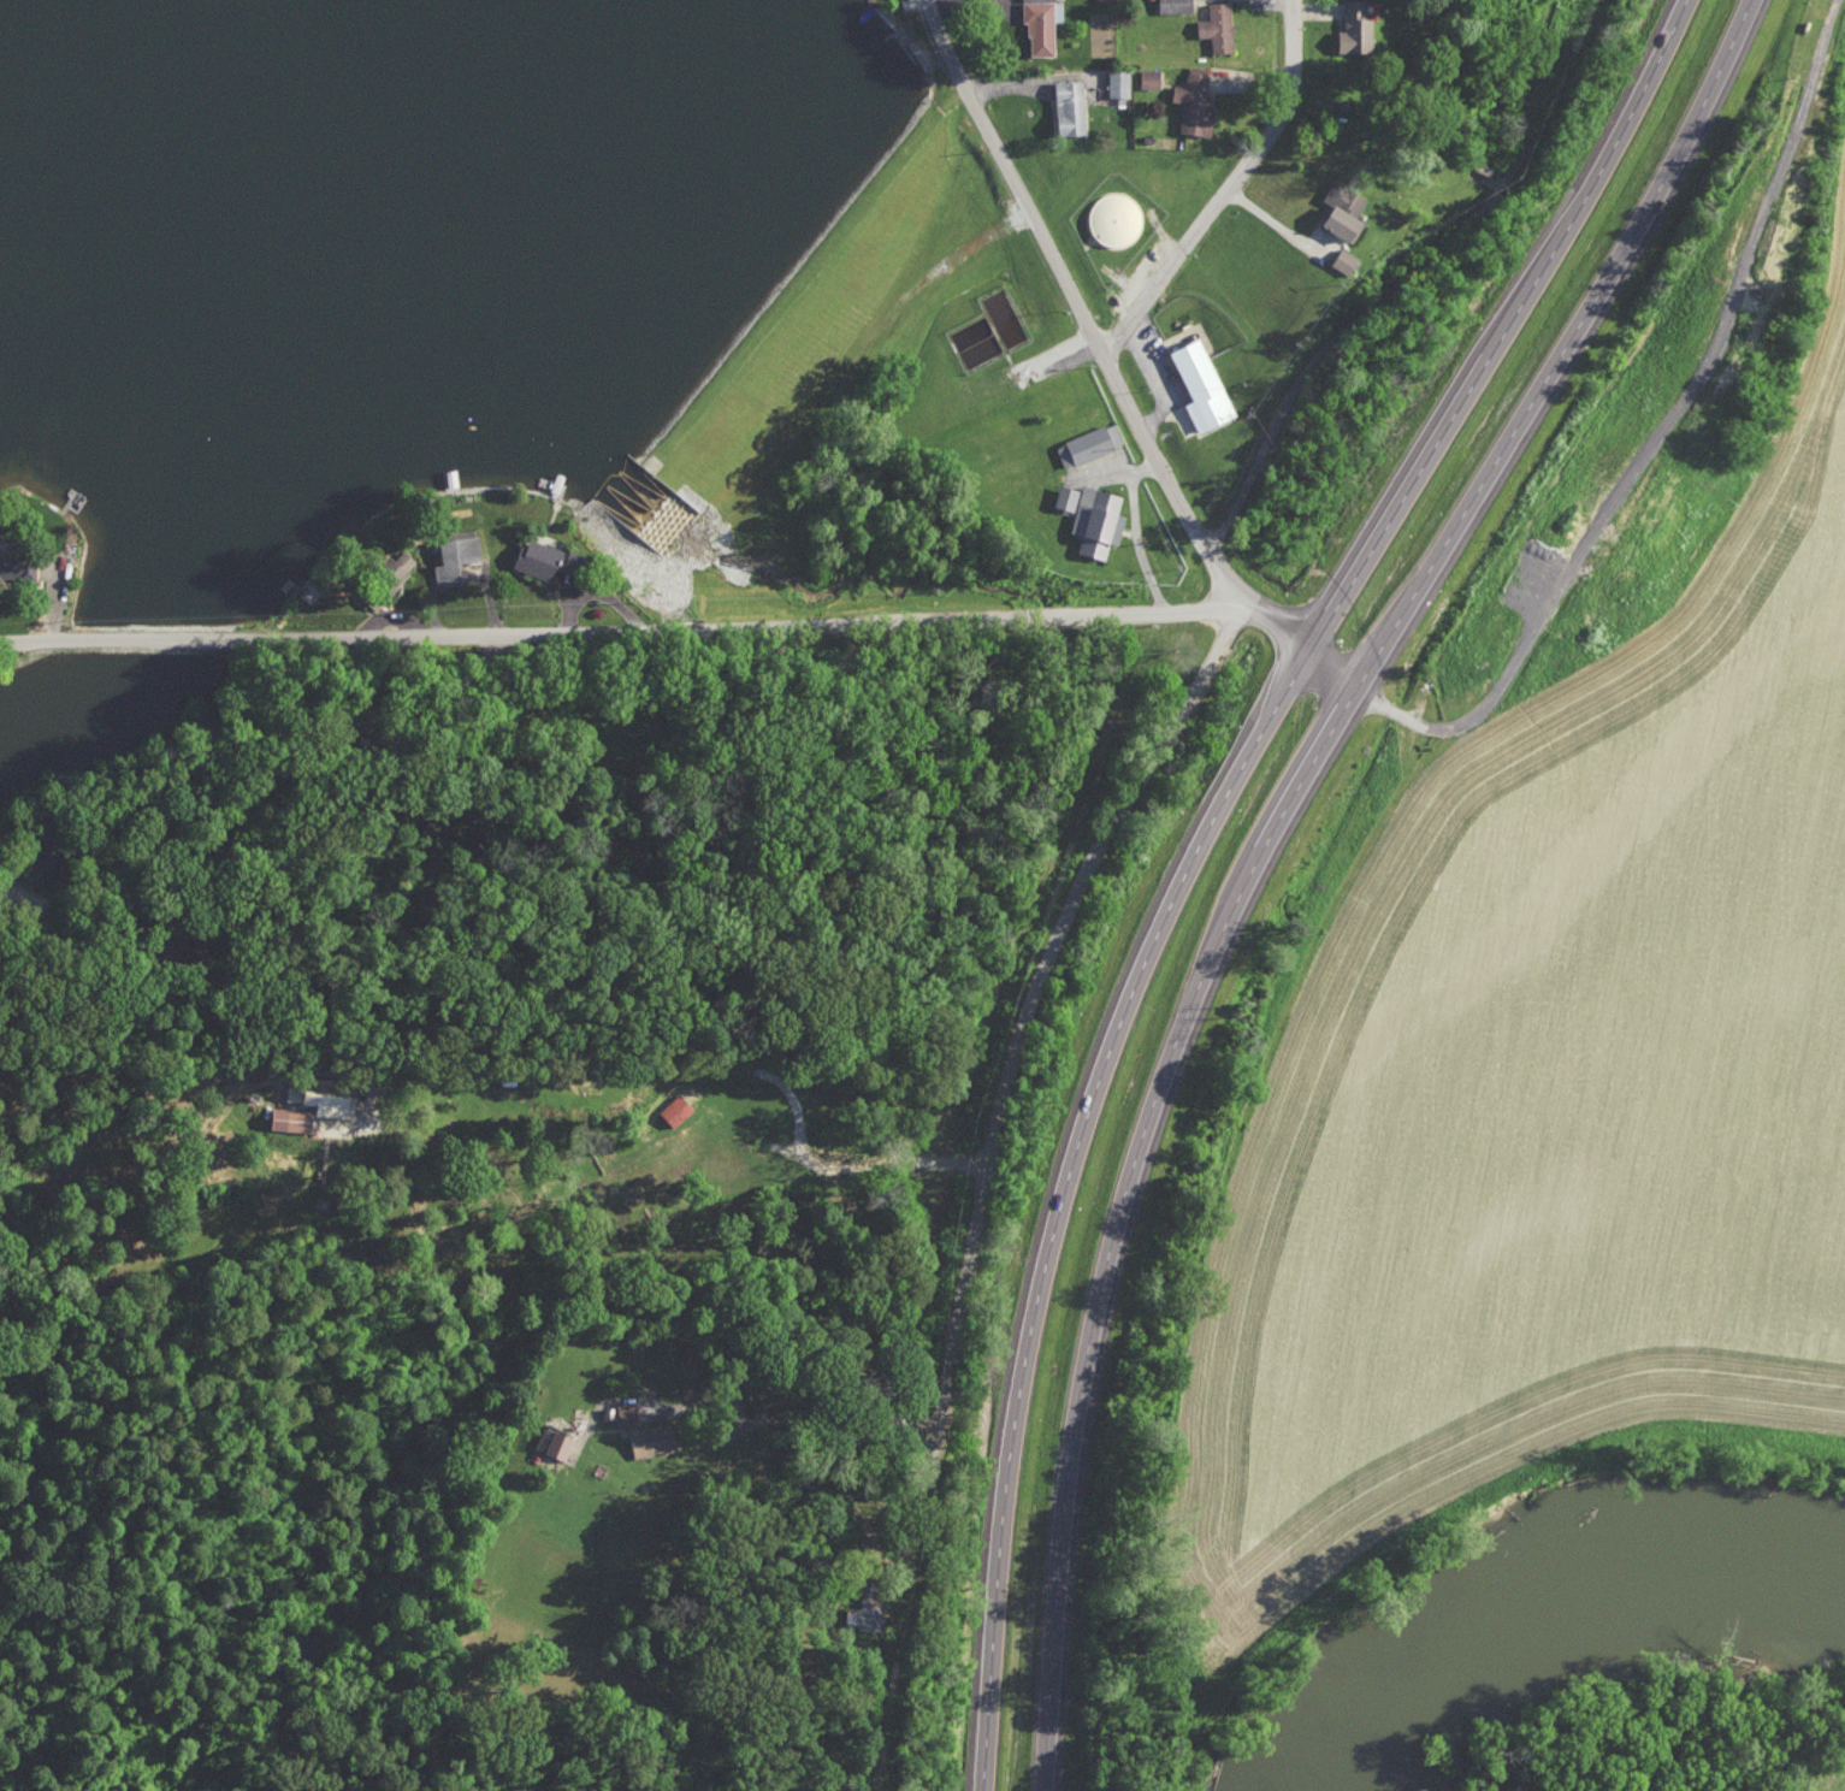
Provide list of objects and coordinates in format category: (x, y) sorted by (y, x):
building: (1176, 6)
building: (1043, 25)
building: (1219, 25)
building: (1356, 28)
building: (1151, 77)
building: (1119, 82)
building: (1196, 101)
building: (1071, 107)
road: (1229, 185)
building: (1346, 209)
building: (1114, 218)
road: (1036, 225)
building: (1346, 260)
building: (1202, 385)
road: (1662, 435)
building: (1090, 444)
building: (1068, 496)
road: (1123, 519)
building: (1099, 520)
building: (456, 558)
building: (551, 560)
building: (404, 561)
building: (18, 563)
road: (1184, 599)
road: (1288, 631)
road: (578, 639)
road: (268, 786)
road: (1261, 845)
road: (1195, 846)
building: (35, 865)
road: (1052, 924)
road: (703, 1066)
building: (678, 1109)
building: (291, 1118)
road: (797, 1424)
building: (649, 1432)
building: (560, 1443)
road: (851, 1503)
river: (1550, 1598)
building: (867, 1610)

